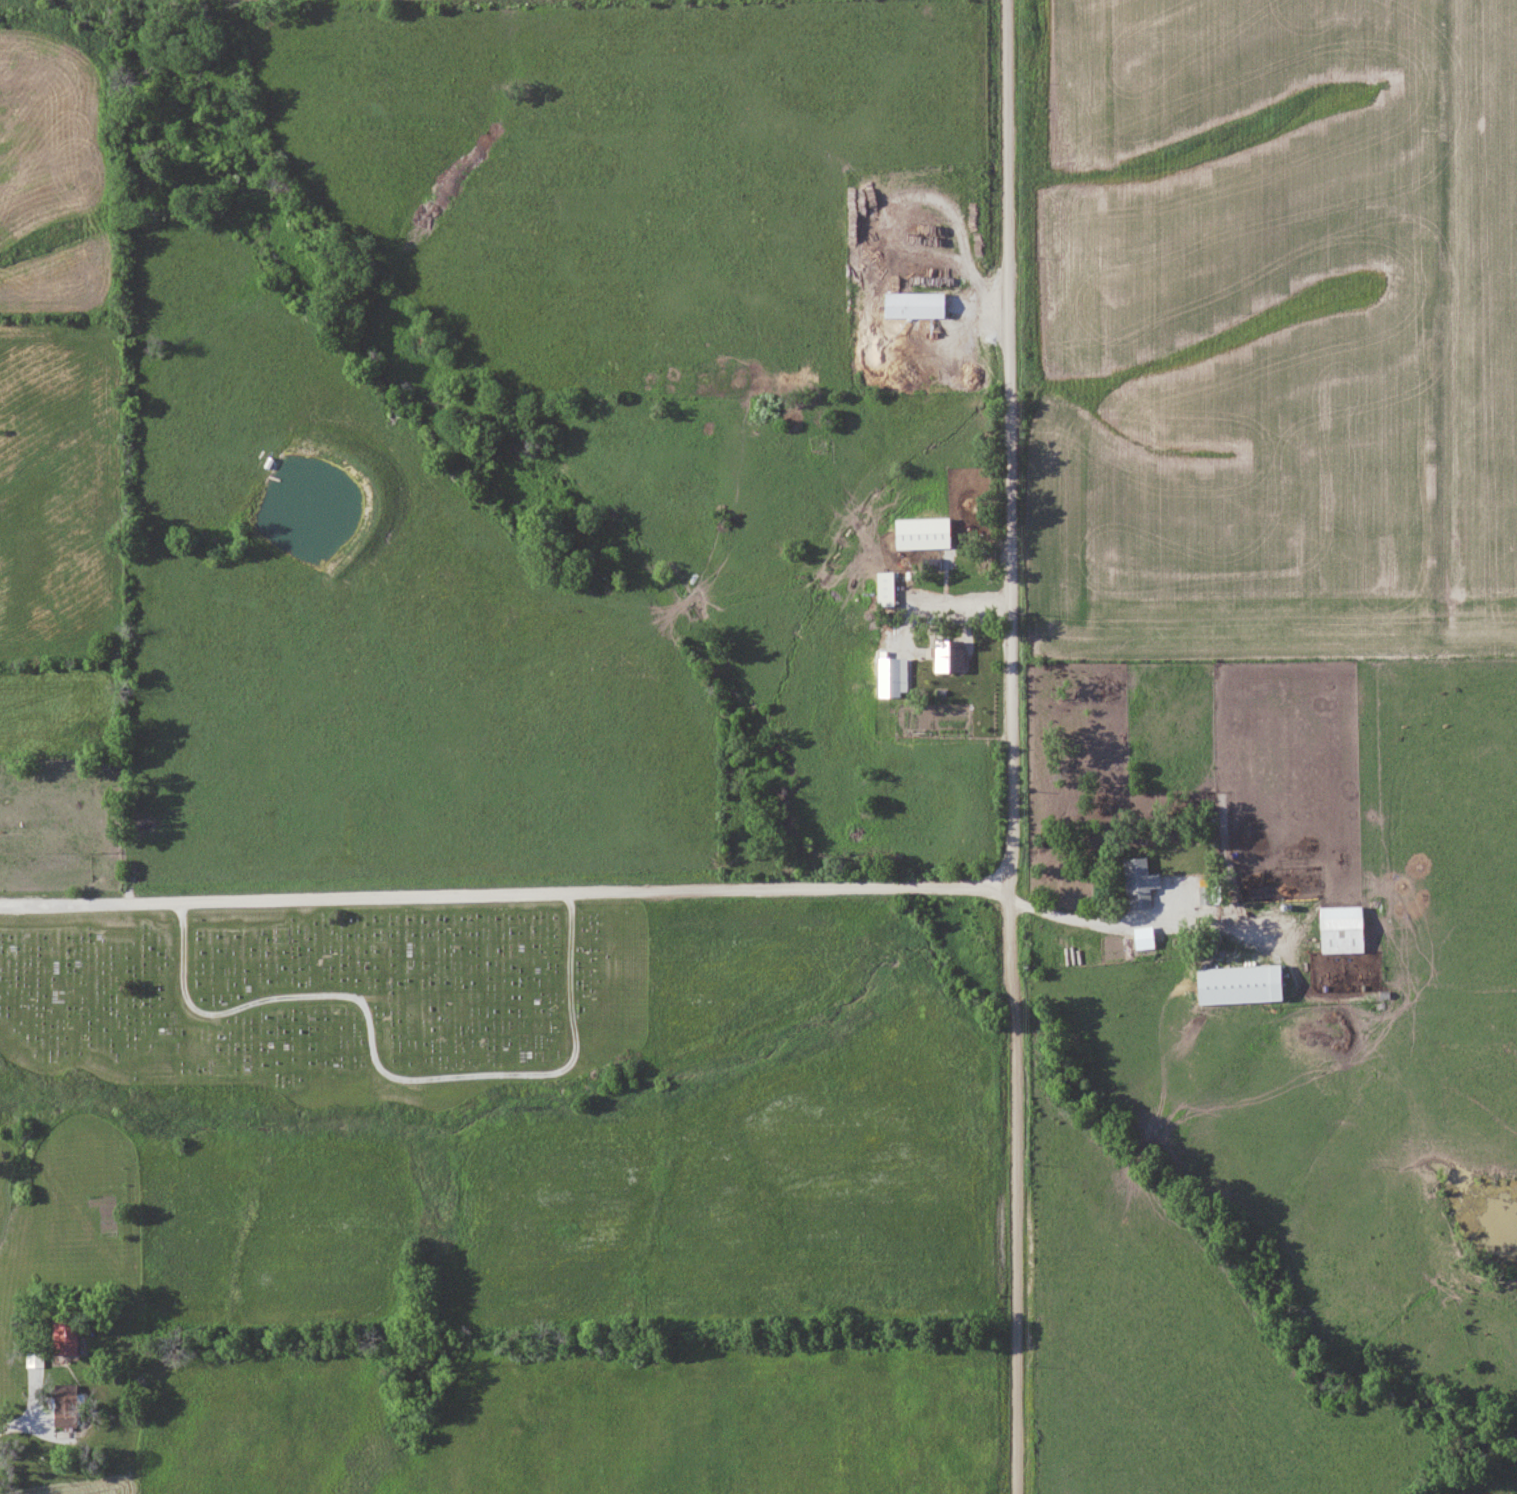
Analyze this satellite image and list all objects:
road: (1011, 443)
building: (813, 444)
building: (1136, 883)
road: (550, 891)
road: (46, 904)
building: (1339, 936)
park: (312, 1003)
road: (1015, 1189)
building: (63, 1344)
building: (62, 1395)

